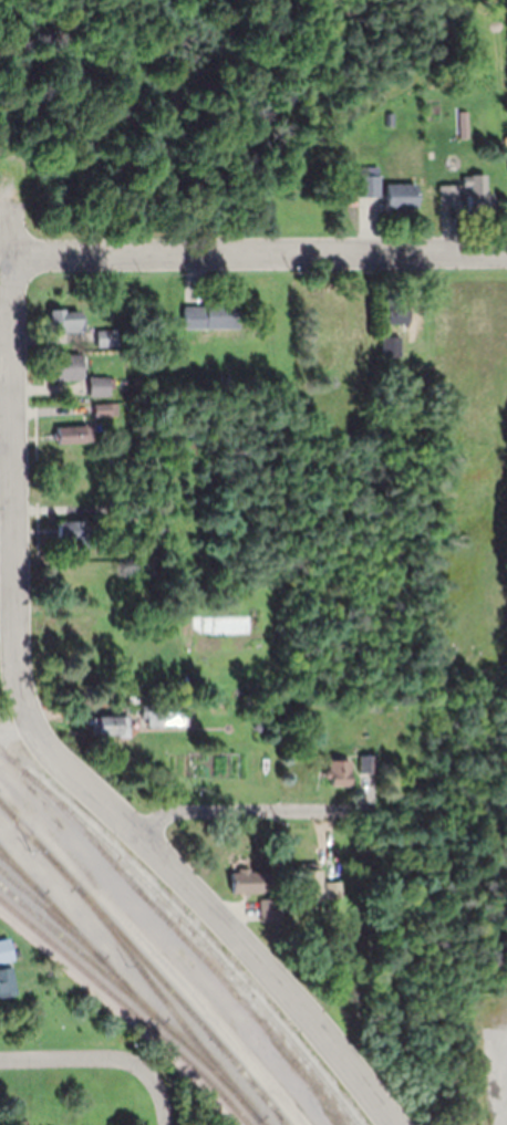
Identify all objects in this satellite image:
building: (365, 185)
building: (473, 191)
building: (446, 192)
building: (399, 195)
road: (257, 251)
building: (394, 313)
building: (206, 315)
building: (64, 320)
building: (105, 338)
building: (391, 346)
building: (64, 366)
building: (97, 385)
building: (72, 433)
road: (11, 457)
building: (120, 511)
building: (71, 535)
building: (155, 716)
road: (13, 725)
building: (108, 725)
building: (337, 772)
road: (229, 809)
road: (21, 826)
railway: (21, 872)
building: (278, 888)
building: (331, 889)
railway: (50, 912)
road: (216, 915)
railway: (188, 927)
railway: (80, 935)
railway: (189, 942)
road: (161, 944)
building: (4, 950)
railway: (145, 961)
building: (6, 981)
railway: (135, 1000)
railway: (169, 1007)
railway: (127, 1009)
road: (74, 1058)
road: (159, 1096)

